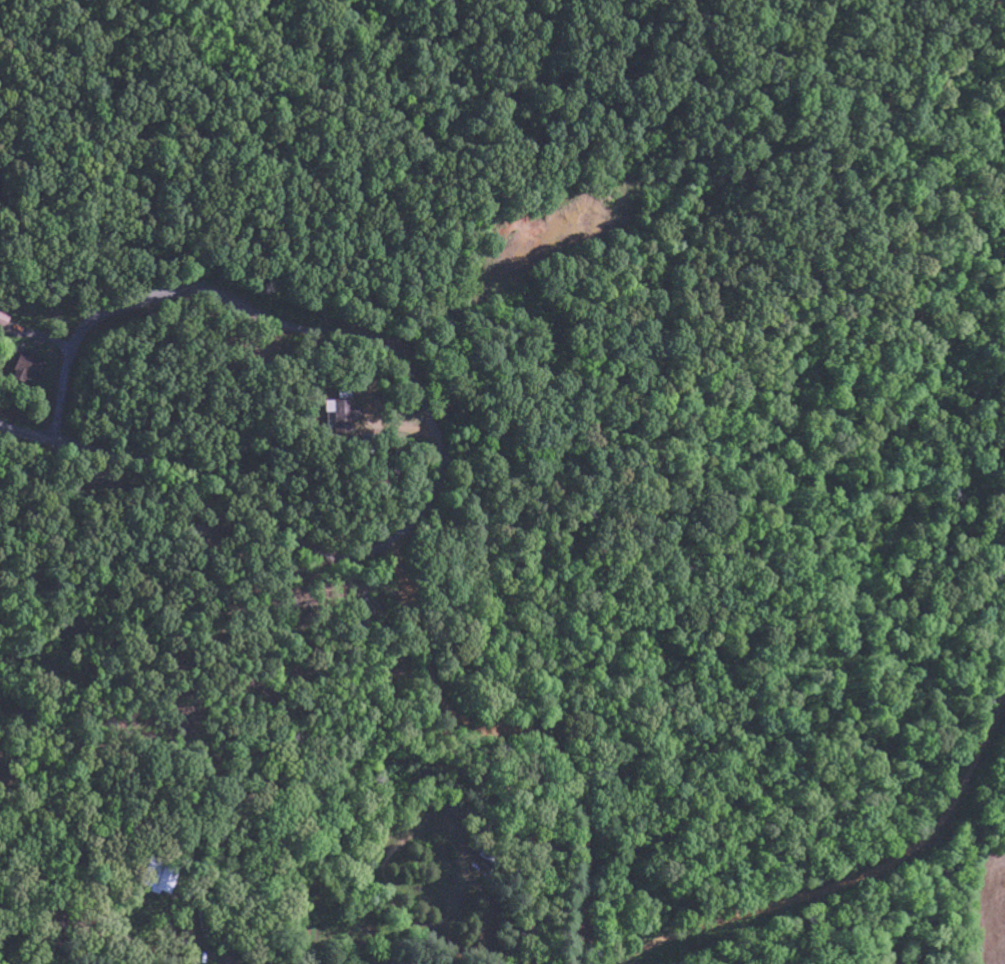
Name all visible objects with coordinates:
road: (382, 237)
building: (5, 321)
road: (289, 328)
building: (32, 369)
building: (344, 421)
road: (409, 593)
road: (859, 887)

